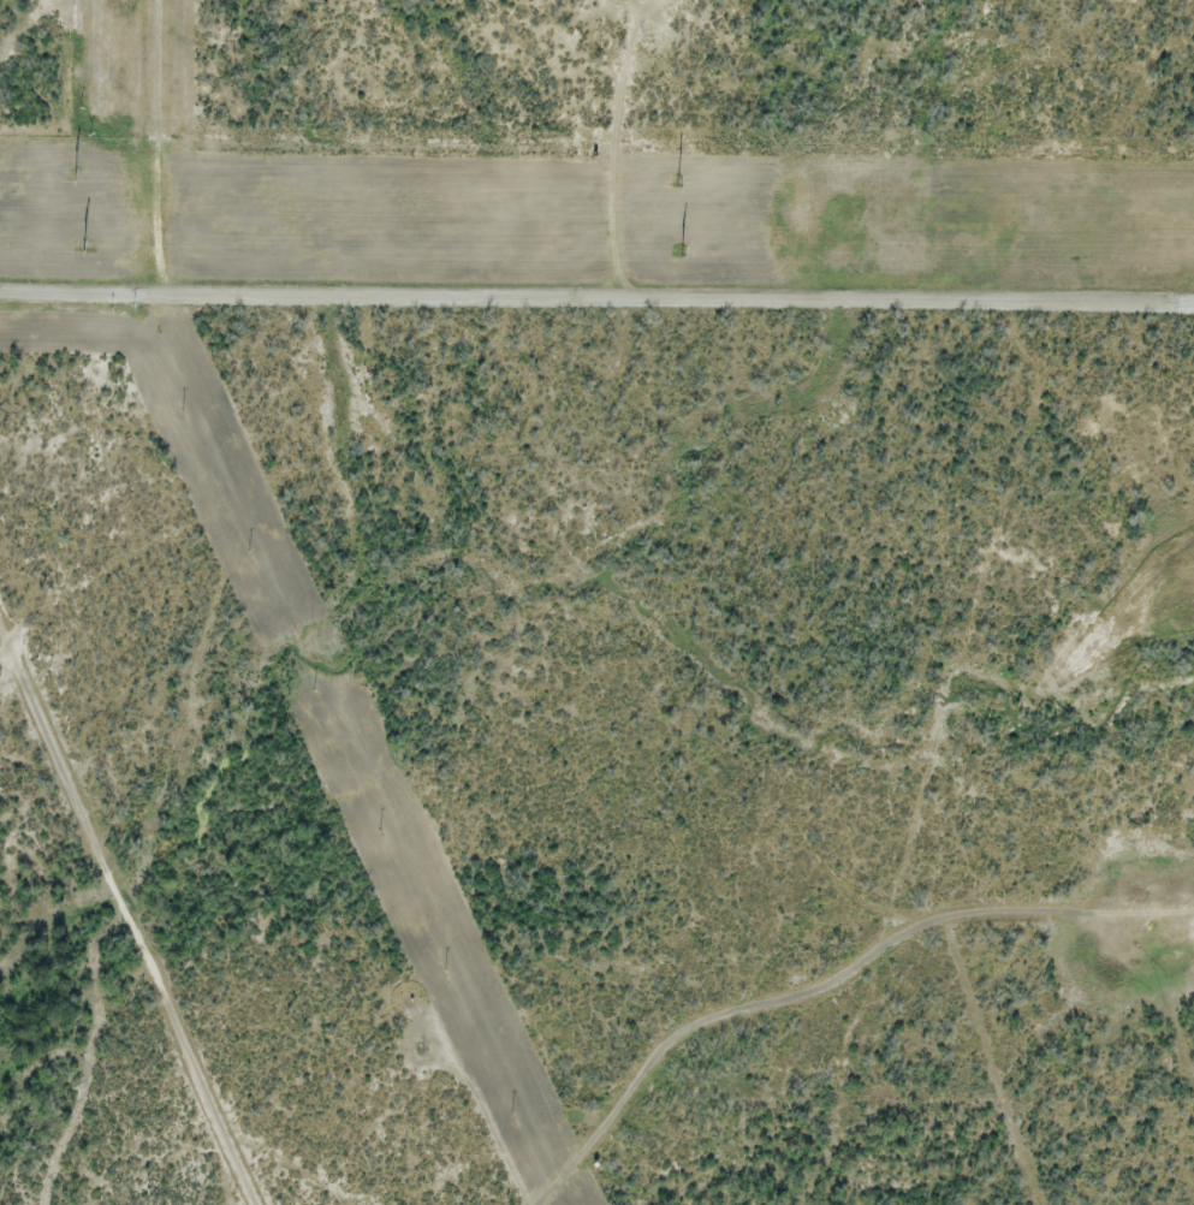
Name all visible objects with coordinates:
power tower: (75, 173)
power tower: (678, 180)
power tower: (84, 245)
power tower: (683, 251)
road: (596, 295)

